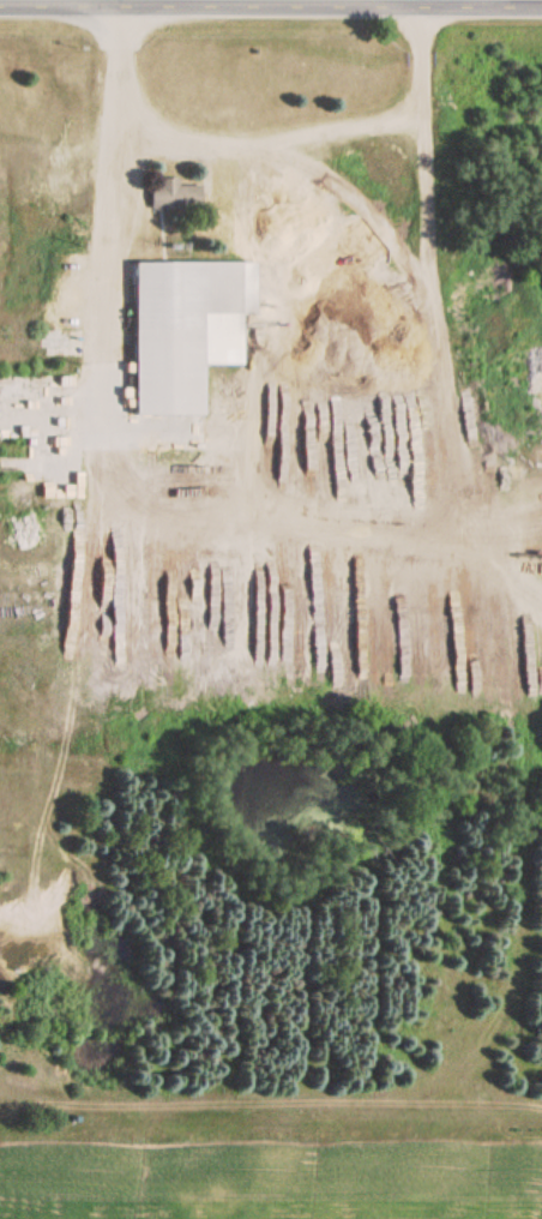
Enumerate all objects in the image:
road: (271, 7)
building: (170, 197)
building: (180, 331)
building: (30, 570)

